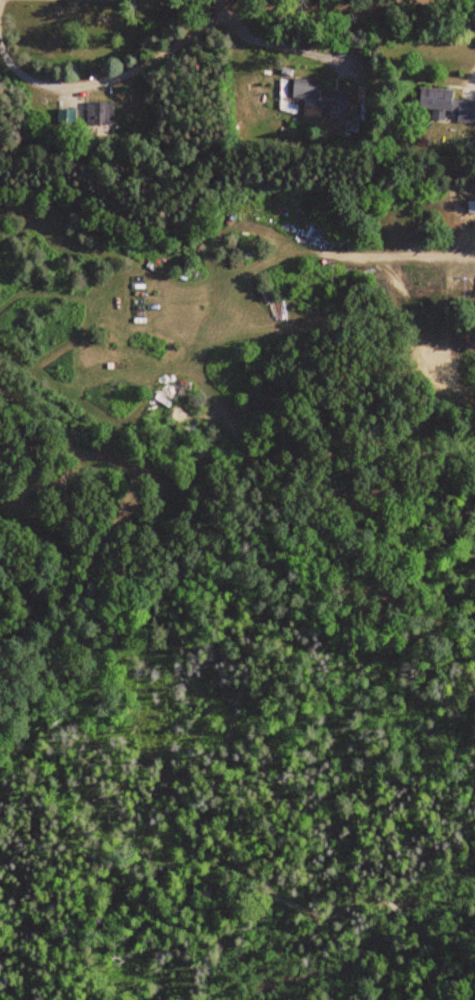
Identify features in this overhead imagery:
road: (325, 11)
building: (320, 93)
building: (446, 105)
building: (98, 113)
building: (65, 116)

